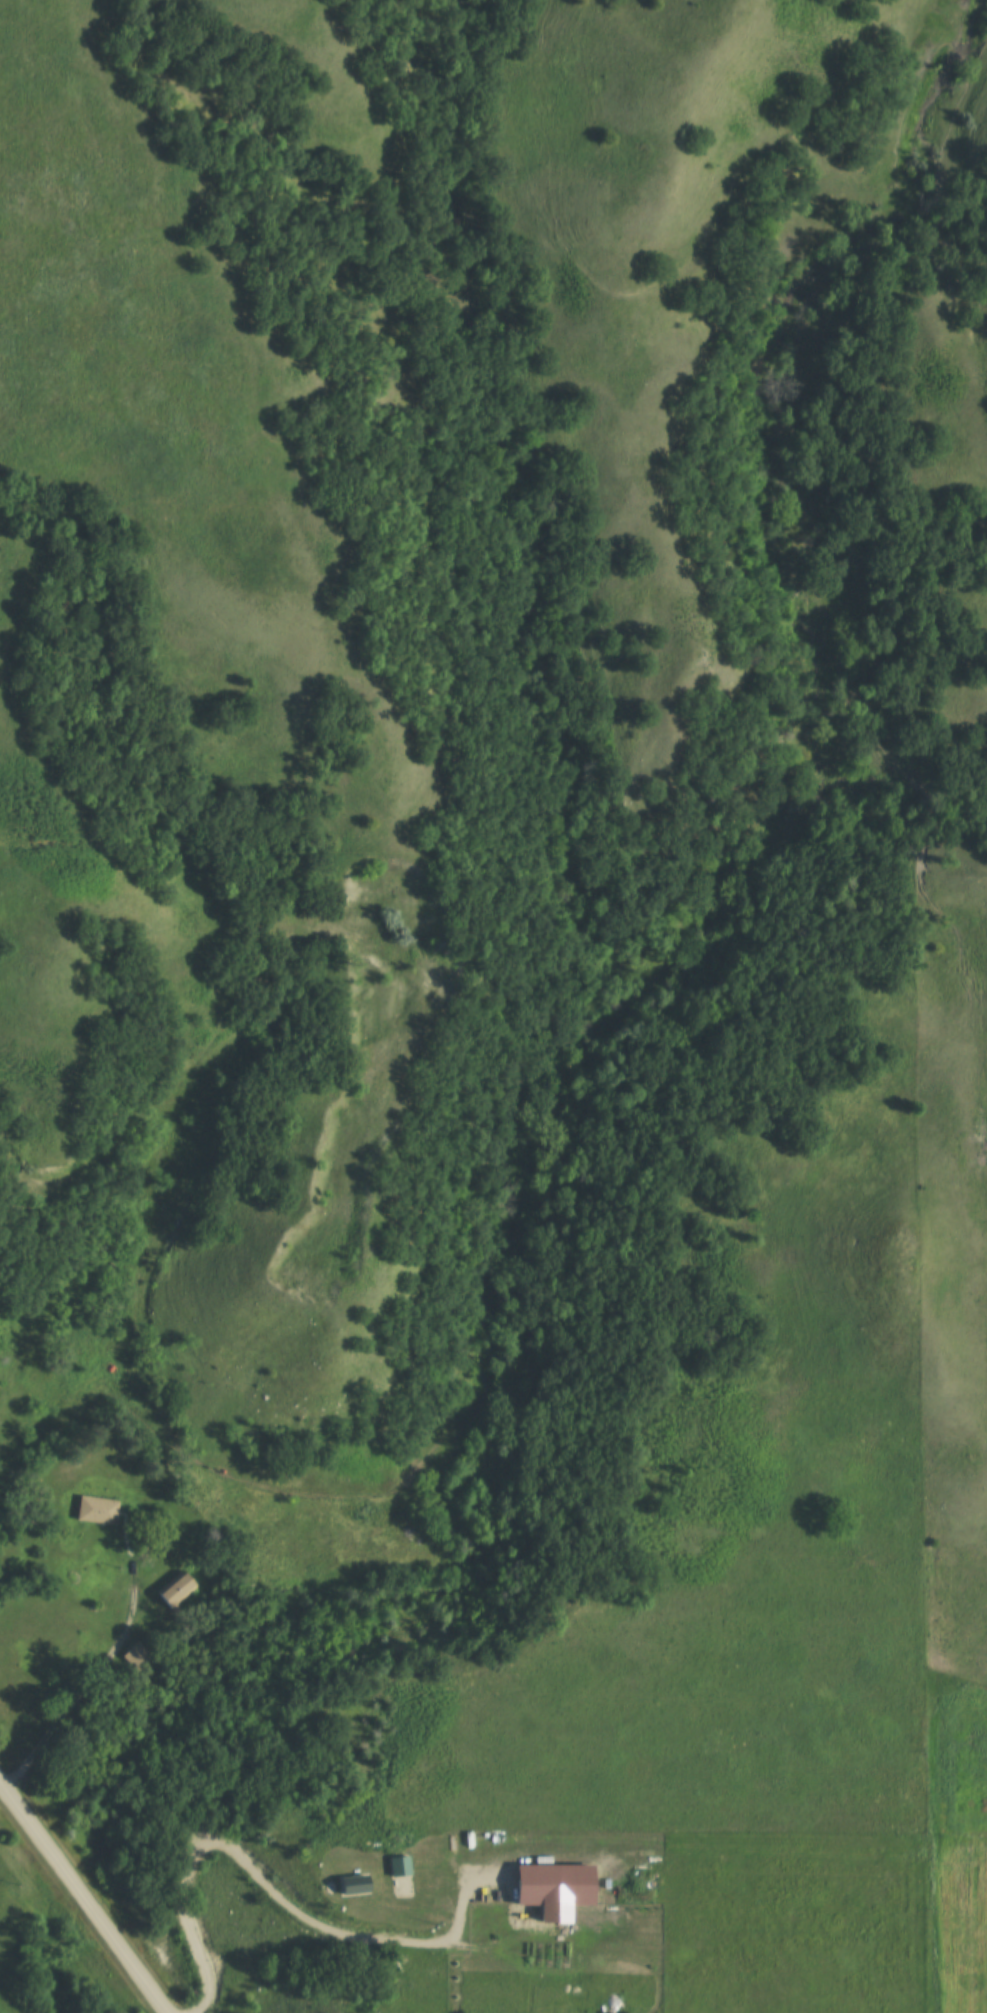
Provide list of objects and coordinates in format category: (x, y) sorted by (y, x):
building: (97, 1510)
building: (178, 1589)
road: (86, 1693)
road: (264, 1879)
road: (83, 1897)

